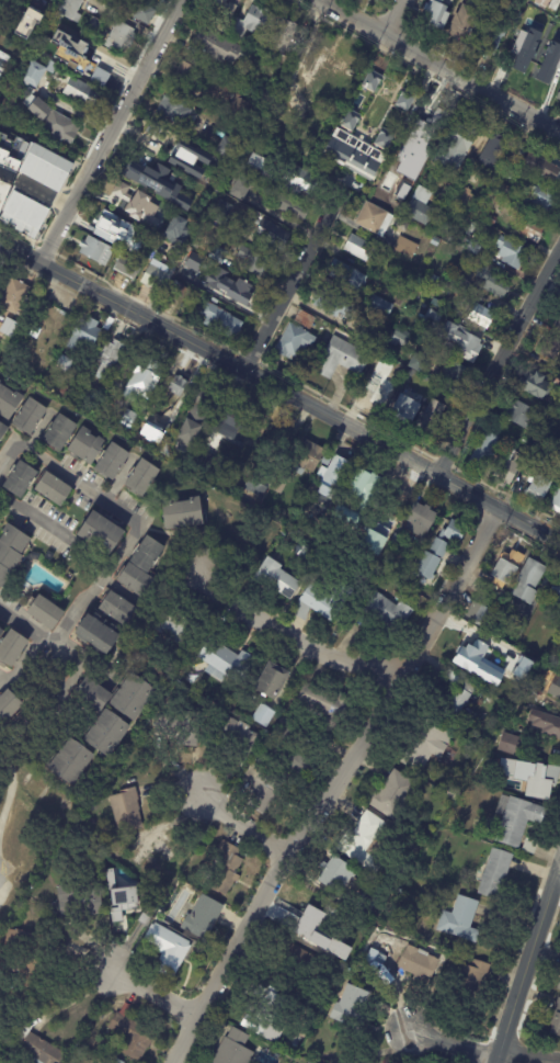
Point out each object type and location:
building: (110, 2)
building: (162, 3)
building: (551, 3)
building: (0, 5)
building: (122, 8)
building: (71, 10)
building: (222, 12)
building: (439, 13)
building: (145, 14)
road: (395, 18)
building: (468, 20)
building: (251, 22)
building: (28, 23)
building: (5, 27)
building: (83, 33)
building: (283, 36)
building: (122, 37)
building: (493, 37)
building: (538, 41)
building: (220, 47)
building: (513, 50)
building: (553, 58)
building: (328, 65)
road: (439, 67)
building: (103, 70)
building: (37, 72)
building: (187, 75)
building: (306, 79)
building: (372, 80)
building: (225, 82)
road: (173, 83)
building: (265, 90)
building: (82, 93)
building: (559, 97)
building: (408, 100)
building: (174, 110)
building: (239, 110)
building: (50, 117)
building: (351, 120)
road: (106, 132)
building: (24, 133)
building: (428, 135)
building: (386, 139)
building: (288, 140)
building: (338, 143)
building: (228, 145)
building: (457, 148)
building: (175, 149)
building: (492, 150)
building: (519, 154)
building: (330, 155)
building: (544, 165)
building: (3, 166)
building: (259, 168)
building: (522, 174)
building: (302, 180)
building: (155, 181)
building: (241, 189)
building: (505, 190)
road: (44, 191)
building: (181, 191)
building: (464, 195)
building: (126, 197)
building: (542, 199)
building: (422, 207)
building: (294, 208)
building: (501, 210)
building: (20, 211)
building: (221, 214)
building: (376, 219)
building: (491, 219)
building: (404, 226)
building: (471, 229)
building: (530, 229)
building: (110, 230)
building: (273, 234)
building: (163, 235)
building: (183, 239)
building: (452, 241)
building: (436, 242)
building: (196, 246)
building: (470, 246)
building: (361, 248)
building: (407, 248)
building: (96, 251)
road: (21, 252)
building: (513, 253)
building: (219, 255)
building: (253, 262)
building: (126, 268)
building: (190, 269)
building: (214, 271)
building: (155, 276)
building: (348, 276)
road: (290, 279)
building: (432, 279)
building: (464, 279)
building: (395, 280)
building: (495, 281)
building: (239, 289)
building: (453, 289)
building: (182, 291)
building: (15, 294)
building: (216, 302)
building: (334, 305)
building: (381, 306)
building: (65, 313)
building: (430, 317)
building: (483, 317)
building: (305, 319)
building: (221, 321)
building: (558, 323)
building: (415, 324)
building: (7, 328)
building: (85, 332)
building: (372, 336)
building: (401, 339)
building: (295, 342)
building: (462, 342)
building: (551, 350)
road: (496, 355)
building: (110, 357)
building: (343, 360)
building: (66, 361)
building: (419, 363)
road: (238, 365)
building: (80, 371)
building: (454, 373)
building: (145, 376)
building: (178, 386)
building: (538, 386)
building: (67, 393)
building: (375, 394)
building: (10, 399)
building: (407, 410)
building: (31, 414)
building: (199, 415)
building: (524, 417)
building: (129, 418)
building: (433, 420)
building: (233, 423)
building: (3, 428)
building: (61, 430)
building: (150, 432)
building: (558, 434)
building: (88, 444)
building: (535, 449)
building: (485, 453)
building: (544, 455)
building: (114, 459)
building: (308, 459)
building: (328, 459)
building: (205, 463)
building: (508, 471)
building: (144, 476)
building: (21, 479)
building: (335, 479)
building: (260, 482)
building: (368, 486)
building: (55, 487)
building: (539, 489)
building: (556, 502)
road: (496, 508)
building: (181, 510)
building: (421, 520)
building: (103, 531)
road: (55, 532)
building: (455, 532)
road: (128, 540)
building: (396, 543)
building: (11, 552)
building: (305, 555)
building: (433, 561)
building: (142, 566)
building: (506, 568)
building: (275, 577)
building: (529, 580)
building: (556, 593)
building: (319, 599)
building: (118, 607)
building: (47, 611)
building: (389, 612)
building: (481, 612)
building: (176, 626)
building: (517, 626)
building: (2, 631)
building: (96, 633)
road: (290, 633)
building: (13, 646)
building: (472, 651)
building: (514, 656)
building: (228, 660)
road: (18, 664)
building: (519, 667)
building: (274, 680)
building: (555, 689)
building: (90, 691)
building: (535, 692)
building: (130, 696)
building: (454, 699)
building: (324, 702)
building: (9, 705)
building: (264, 715)
building: (546, 722)
building: (180, 727)
building: (103, 733)
building: (237, 742)
building: (510, 743)
building: (427, 746)
building: (298, 754)
building: (71, 762)
building: (534, 776)
road: (331, 783)
building: (262, 787)
road: (11, 789)
building: (393, 794)
building: (454, 794)
building: (127, 810)
building: (519, 821)
road: (243, 826)
building: (80, 830)
building: (363, 841)
building: (156, 851)
parking lot: (2, 868)
building: (226, 869)
building: (495, 873)
building: (336, 874)
building: (437, 892)
building: (81, 900)
building: (366, 904)
building: (134, 906)
building: (308, 915)
building: (203, 917)
building: (461, 919)
building: (401, 937)
building: (168, 951)
building: (25, 954)
building: (297, 961)
road: (525, 963)
building: (424, 965)
building: (11, 966)
building: (472, 983)
building: (559, 987)
road: (156, 996)
building: (352, 1007)
building: (265, 1014)
building: (557, 1020)
building: (133, 1037)
road: (450, 1042)
building: (232, 1048)
building: (38, 1051)
road: (527, 1058)
building: (118, 1061)
building: (308, 1062)

